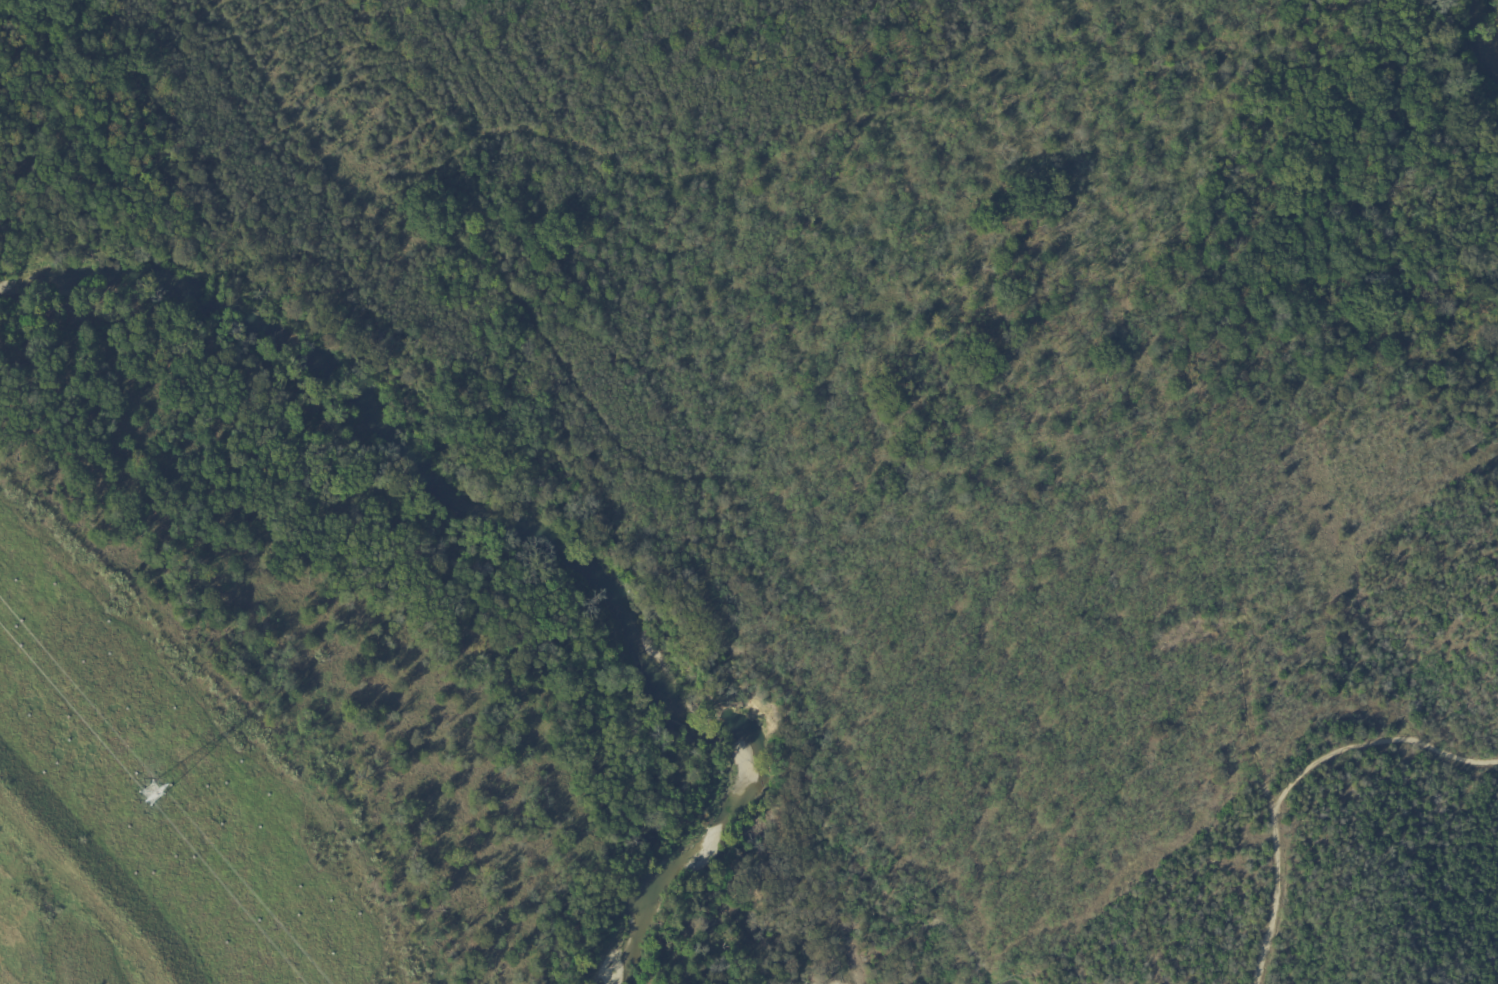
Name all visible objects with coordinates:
river: (1484, 52)
river: (523, 536)
road: (1298, 780)
power tower: (141, 817)
park: (1355, 851)

